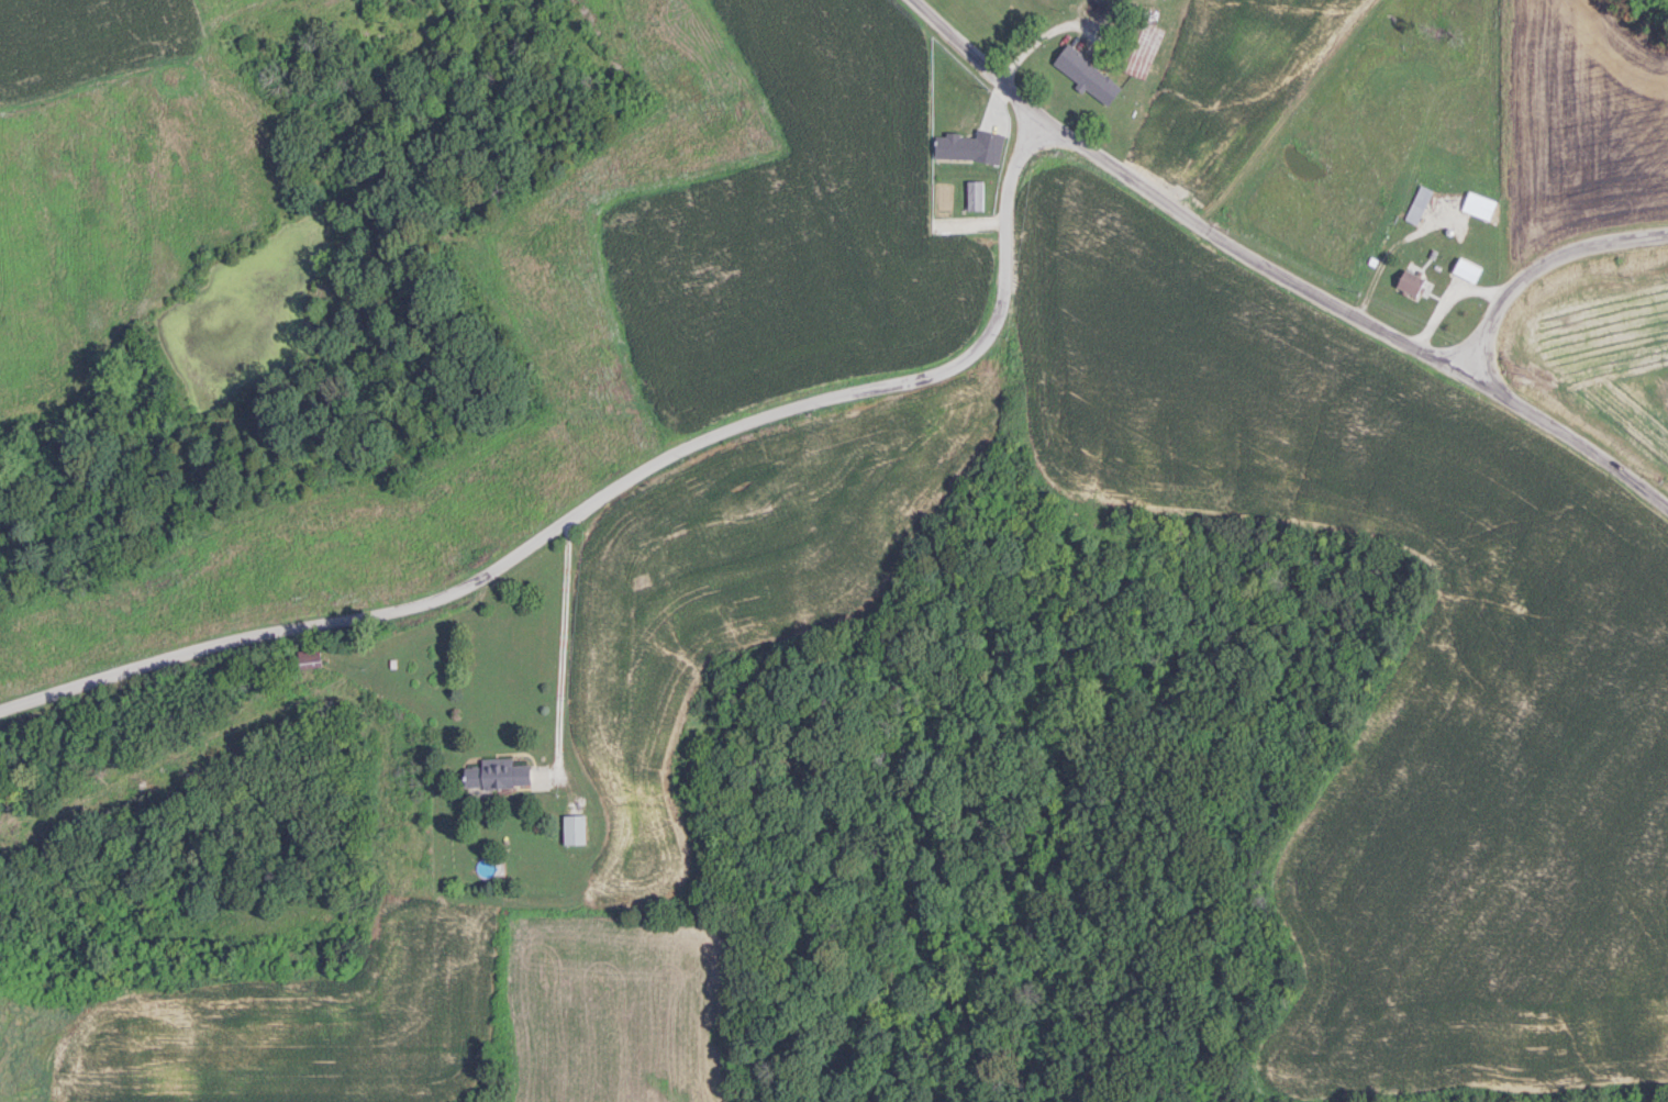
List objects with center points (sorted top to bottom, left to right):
building: (1141, 47)
building: (1088, 74)
building: (969, 146)
building: (976, 194)
building: (1419, 203)
building: (1479, 204)
road: (1538, 258)
road: (1280, 266)
building: (1467, 269)
building: (1411, 282)
road: (605, 486)
road: (564, 644)
building: (309, 657)
crop: (1397, 668)
building: (498, 773)
building: (574, 828)

